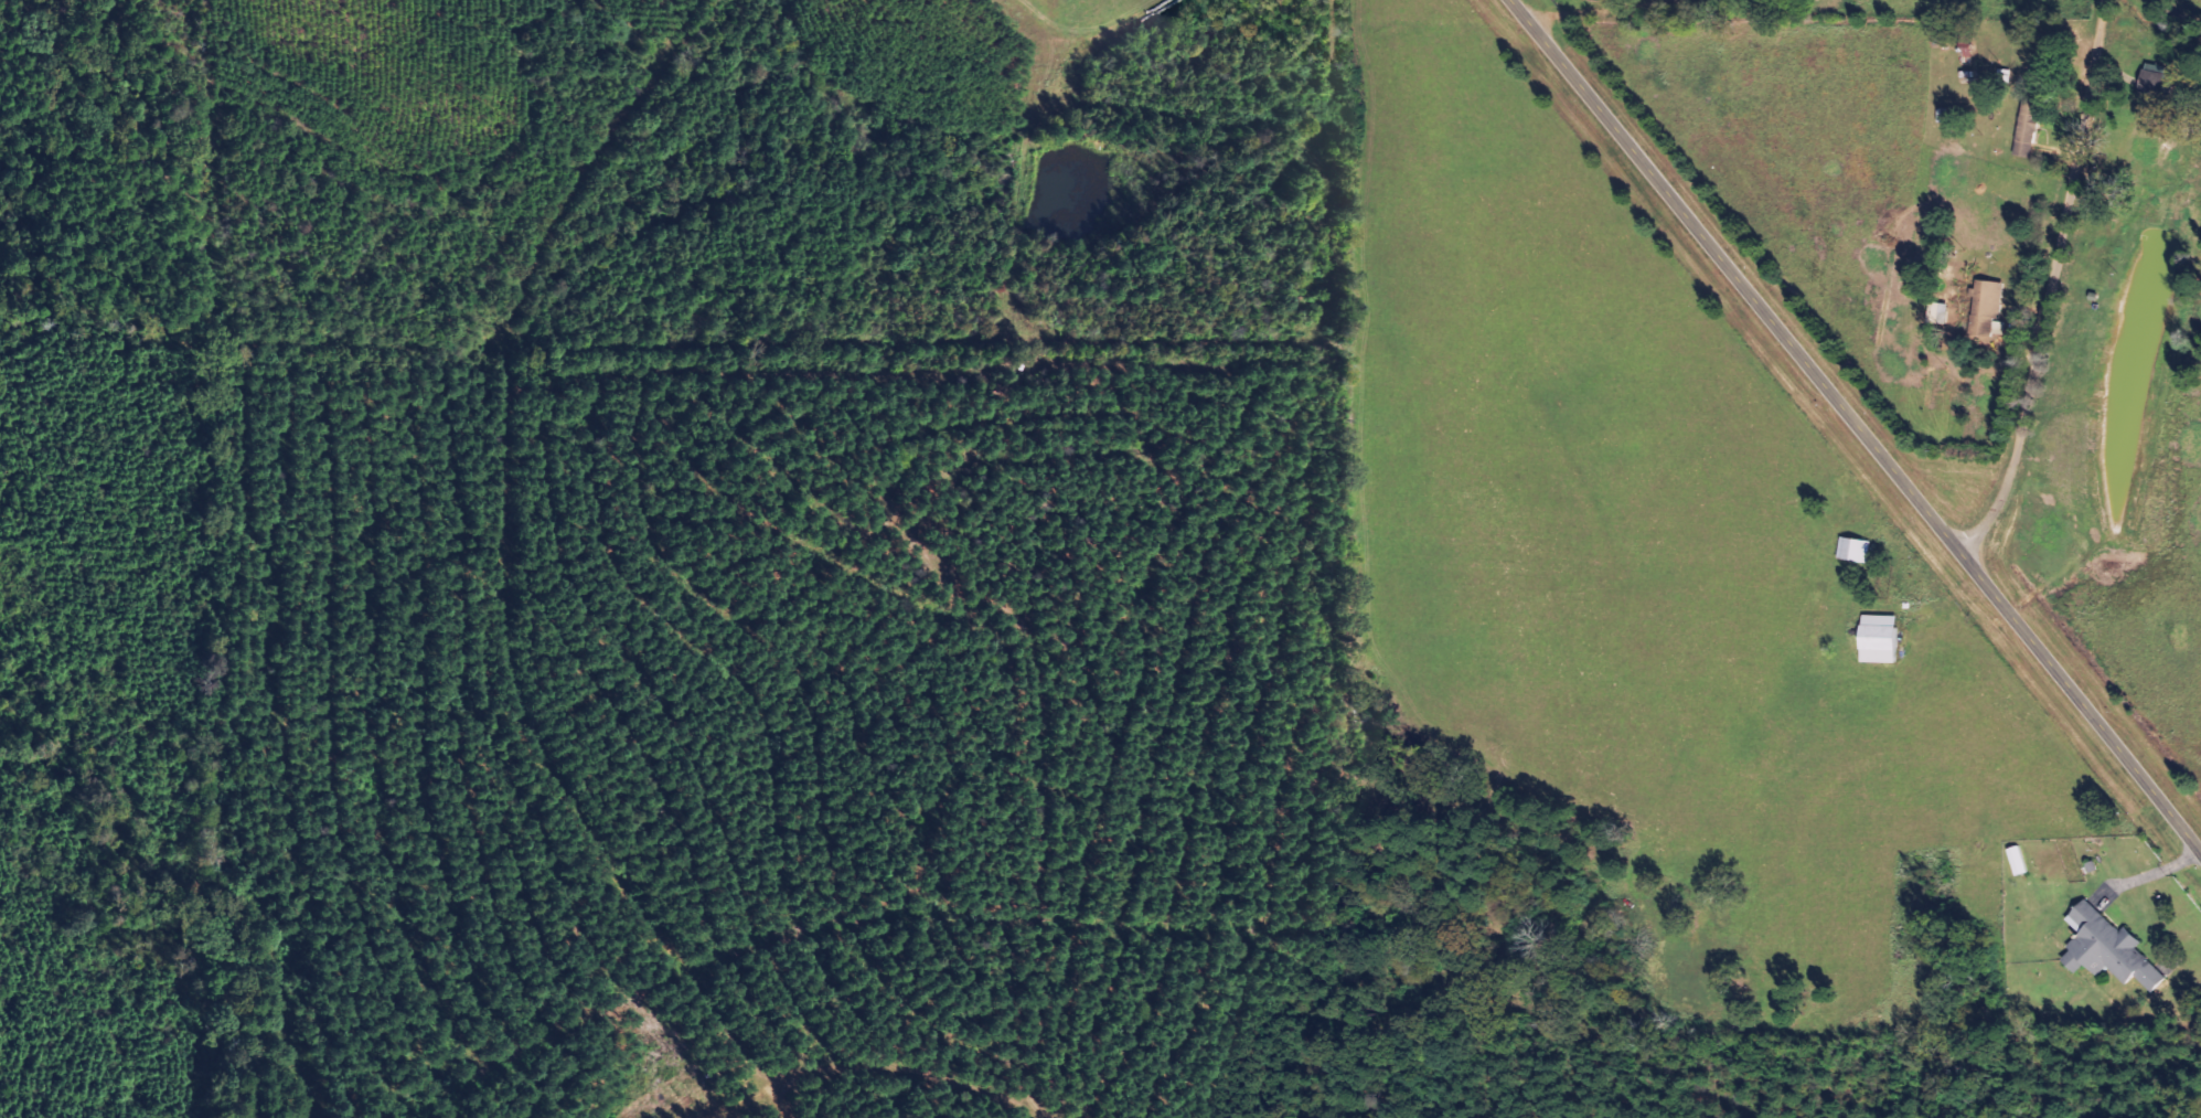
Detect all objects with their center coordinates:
building: (2150, 83)
road: (2061, 288)
road: (1853, 424)
building: (1858, 550)
building: (1885, 639)
building: (2114, 949)

